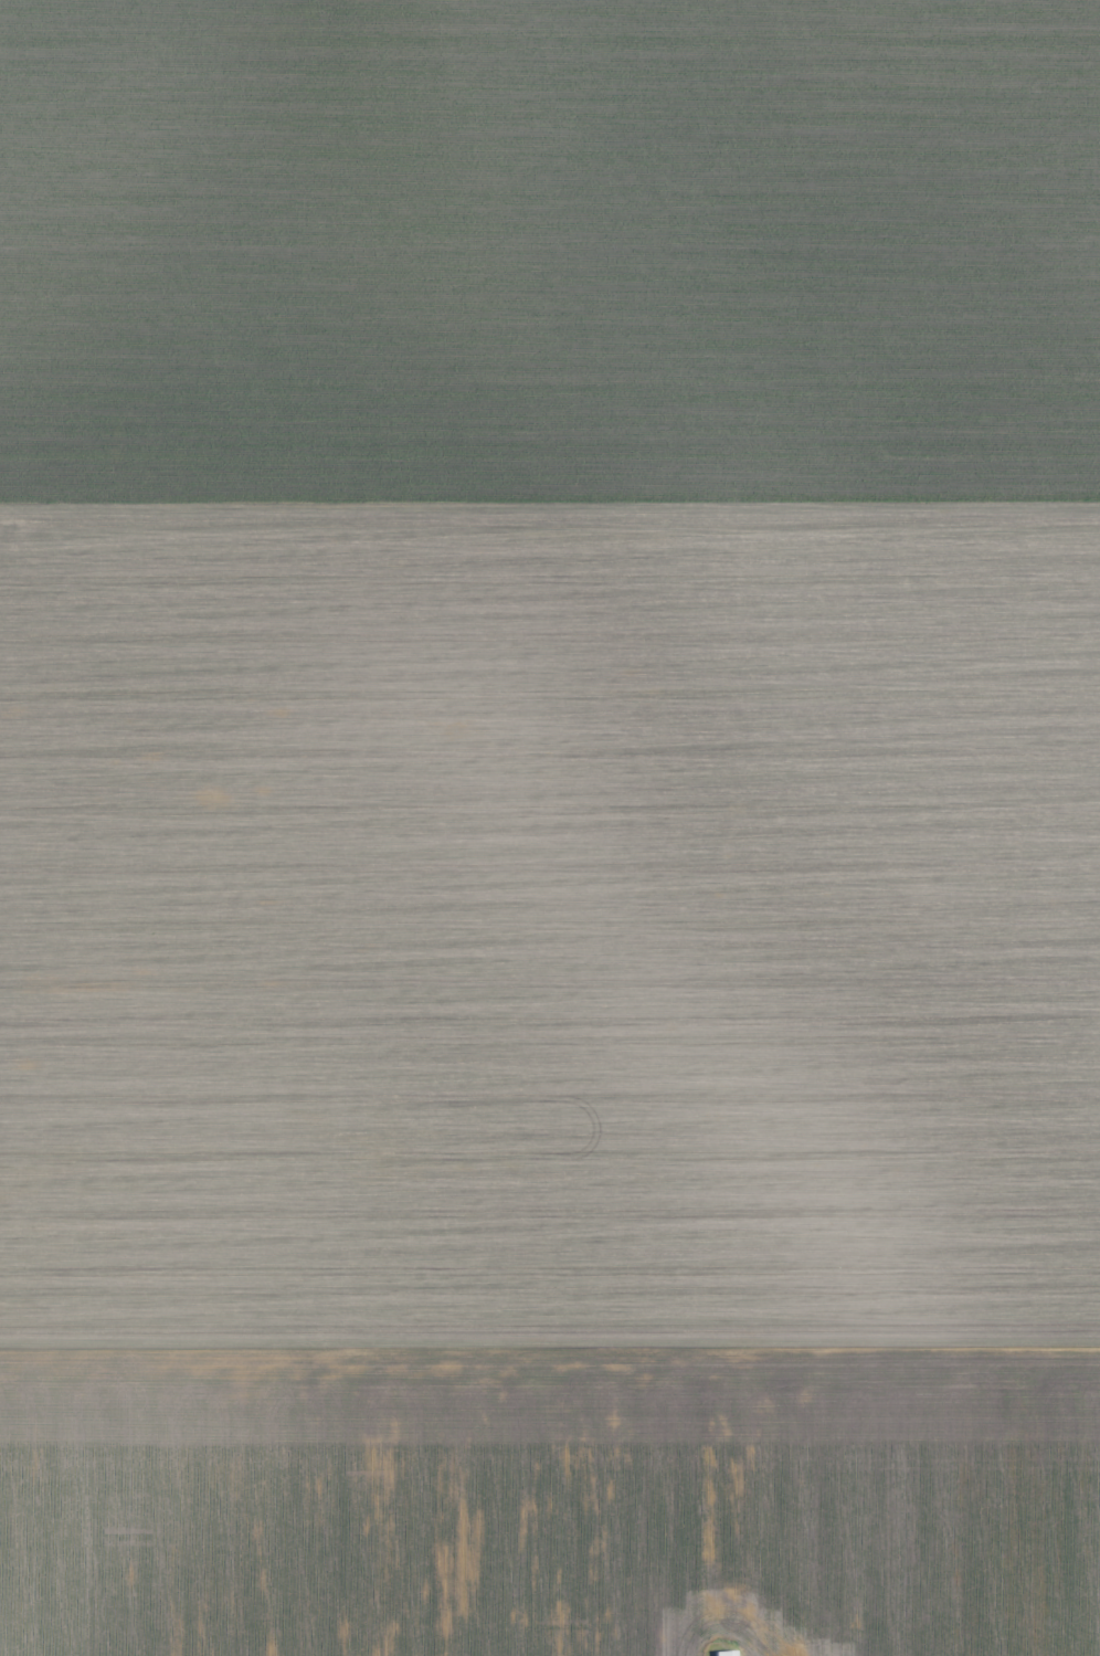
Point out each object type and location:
building: (727, 1653)

